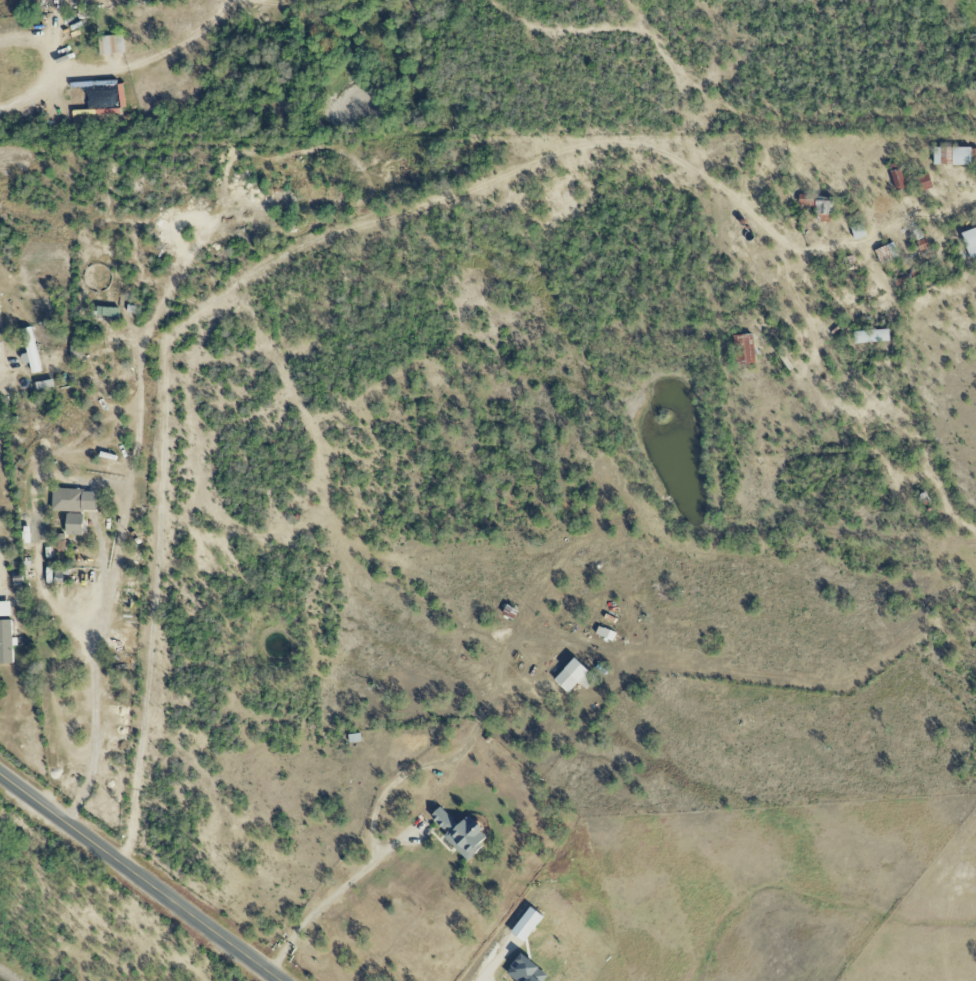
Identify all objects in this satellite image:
building: (110, 45)
road: (157, 59)
road: (54, 78)
building: (951, 156)
building: (896, 176)
building: (925, 182)
building: (817, 208)
building: (857, 232)
road: (323, 236)
building: (970, 241)
building: (886, 253)
building: (108, 311)
building: (0, 313)
building: (870, 336)
building: (744, 349)
building: (30, 351)
building: (76, 351)
building: (45, 385)
building: (74, 500)
building: (80, 526)
road: (119, 541)
building: (60, 542)
road: (2, 574)
building: (5, 609)
building: (6, 642)
building: (570, 675)
building: (586, 680)
building: (460, 833)
road: (140, 877)
road: (337, 894)
road: (496, 963)

